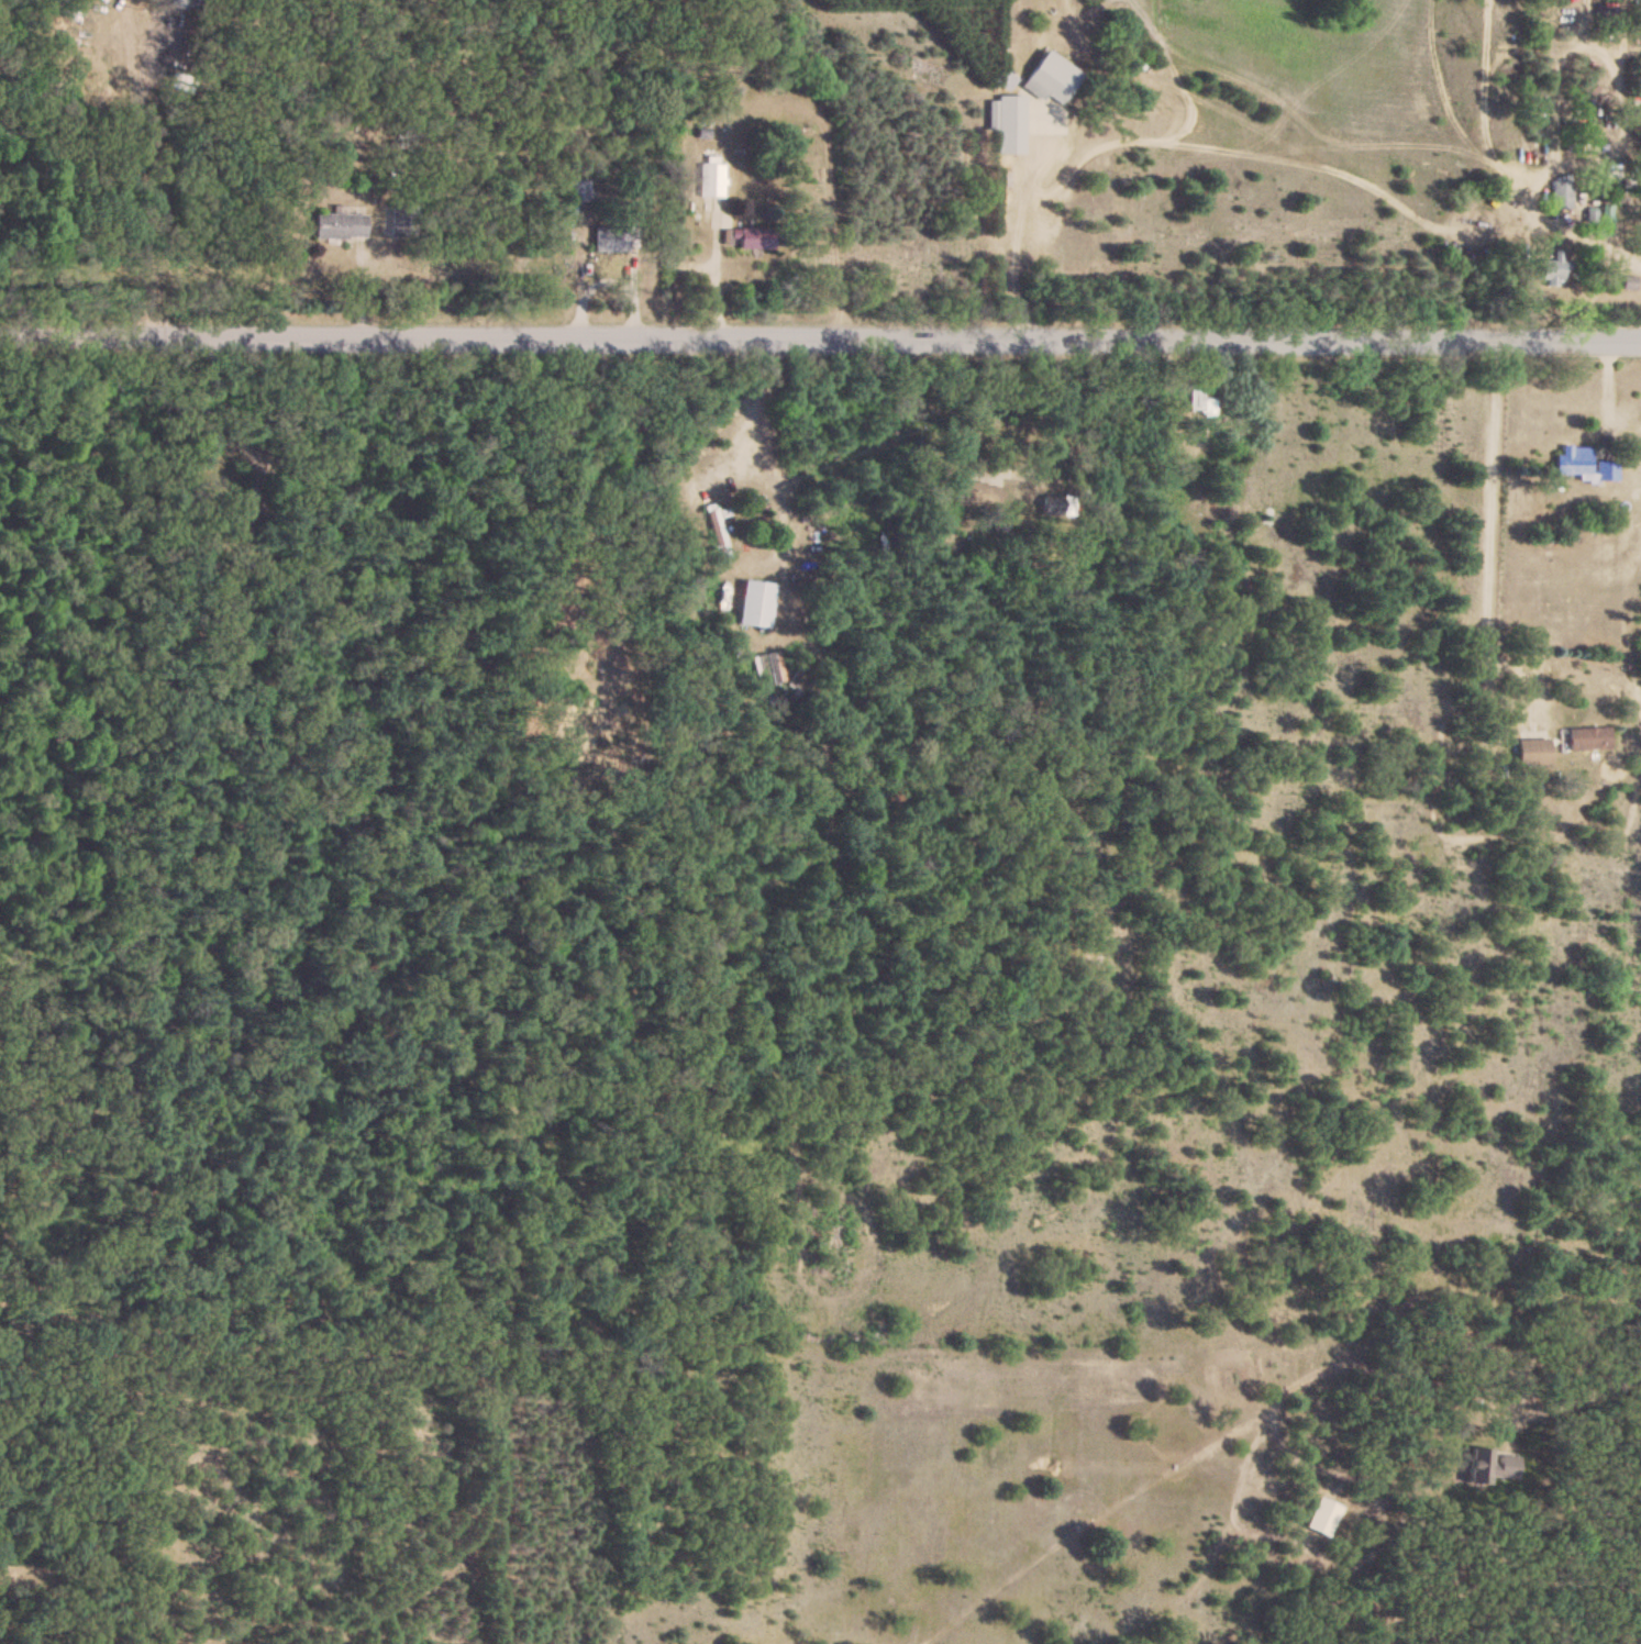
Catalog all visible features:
building: (1004, 84)
building: (1047, 84)
building: (1005, 119)
road: (1328, 170)
road: (147, 177)
building: (712, 181)
building: (1561, 199)
building: (1611, 225)
building: (339, 229)
building: (747, 243)
road: (1012, 258)
building: (1551, 276)
road: (717, 280)
building: (1630, 286)
road: (820, 335)
building: (1198, 401)
road: (766, 413)
road: (1088, 427)
building: (1584, 466)
building: (978, 498)
road: (1490, 520)
building: (718, 534)
building: (755, 607)
building: (1587, 742)
building: (1532, 755)
road: (1576, 1389)
building: (1488, 1470)
building: (1322, 1520)

